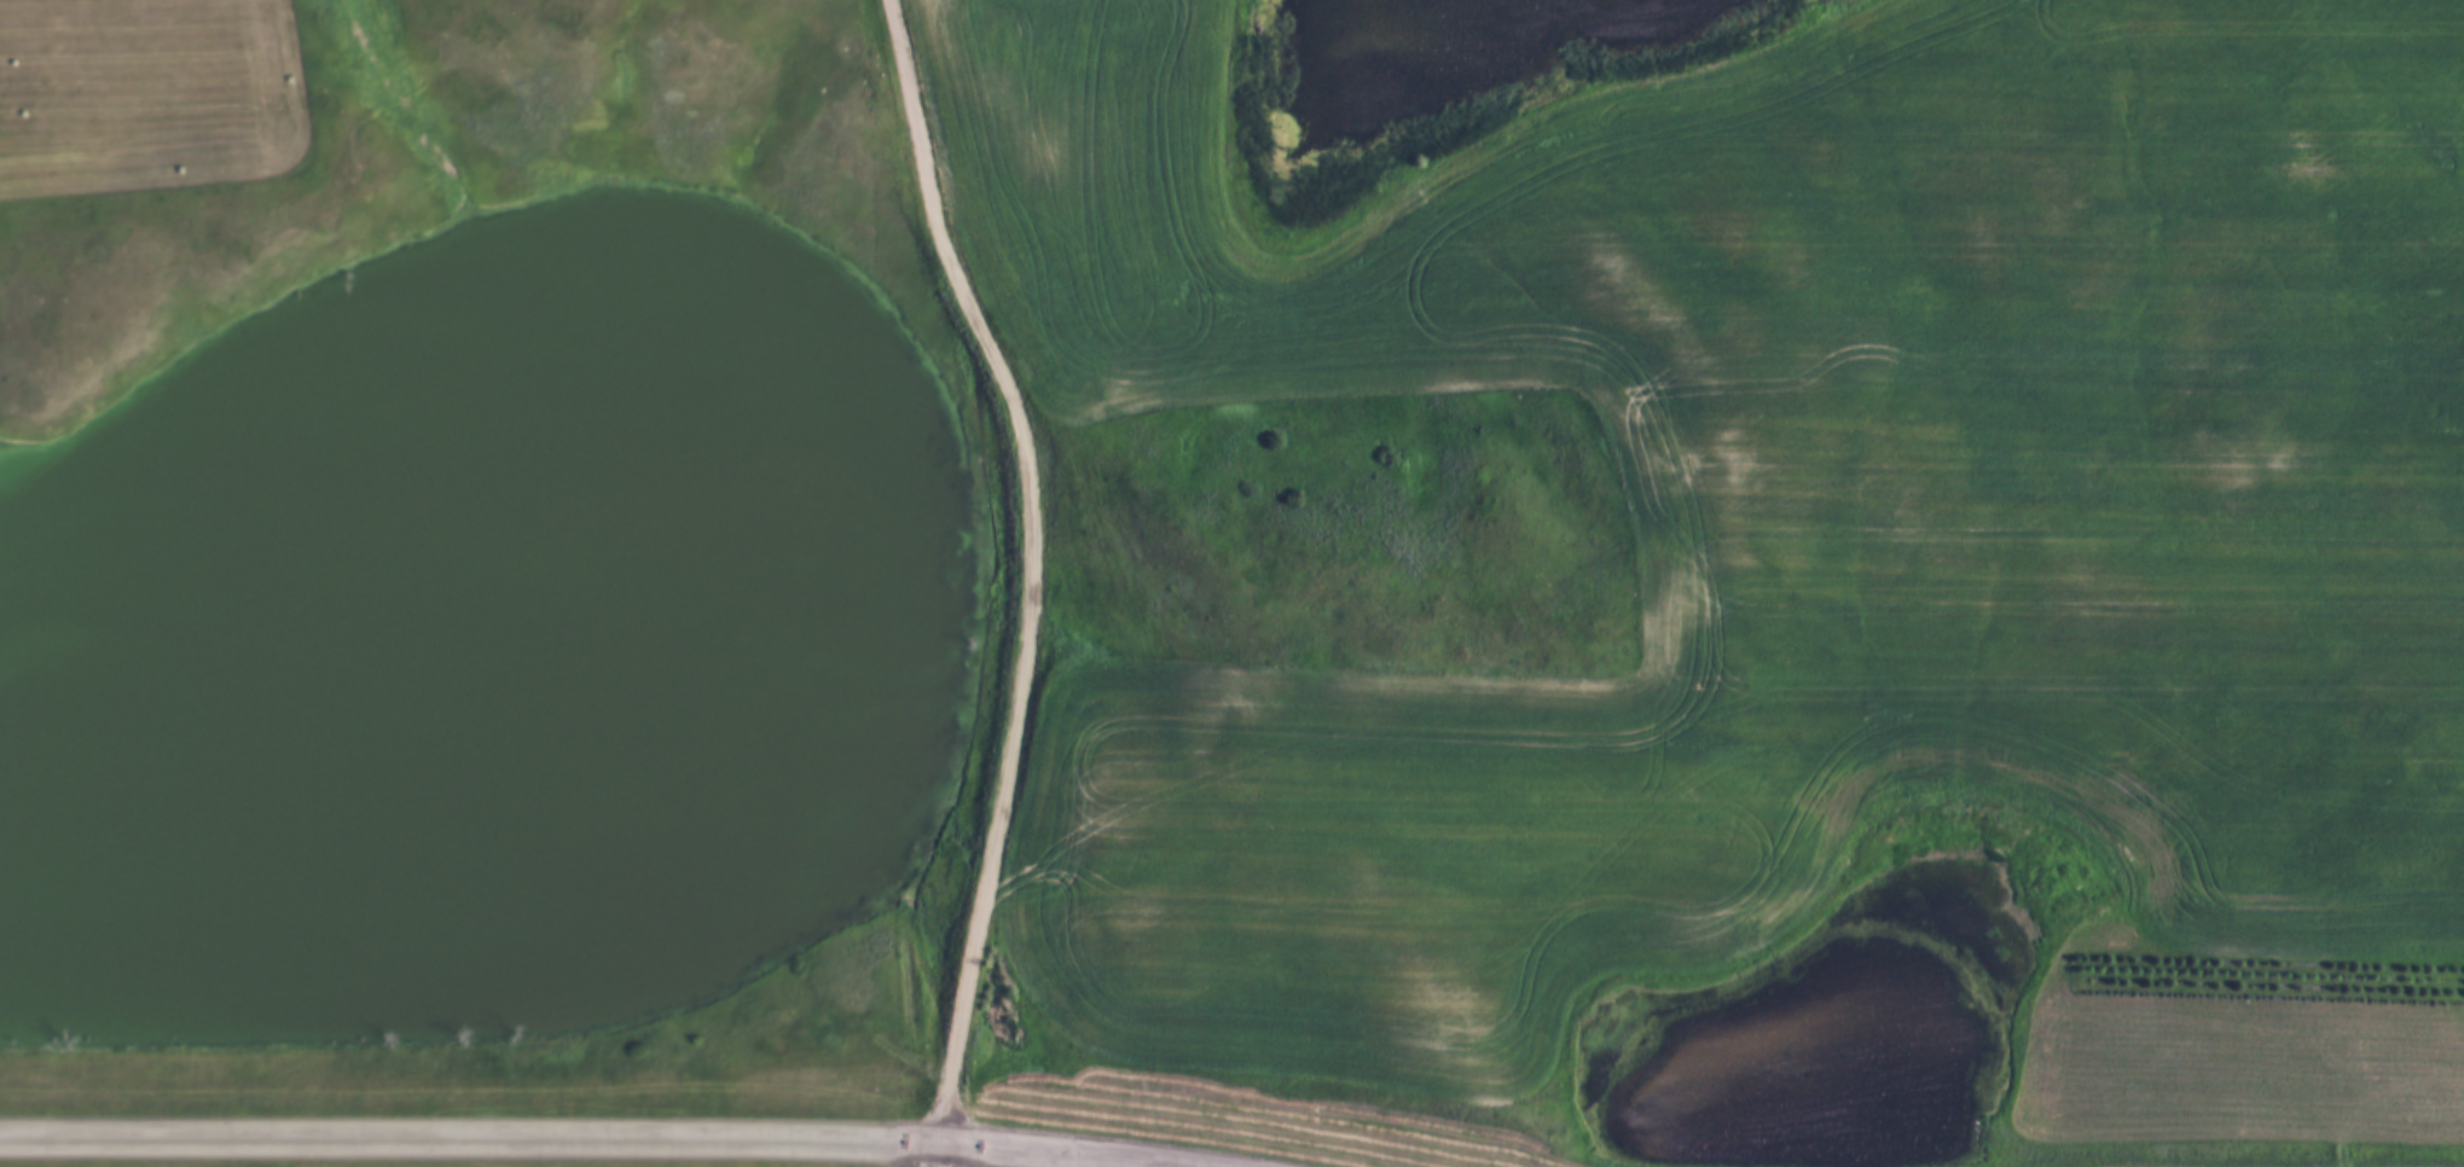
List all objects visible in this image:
road: (1030, 569)
road: (582, 1150)
road: (946, 1160)

